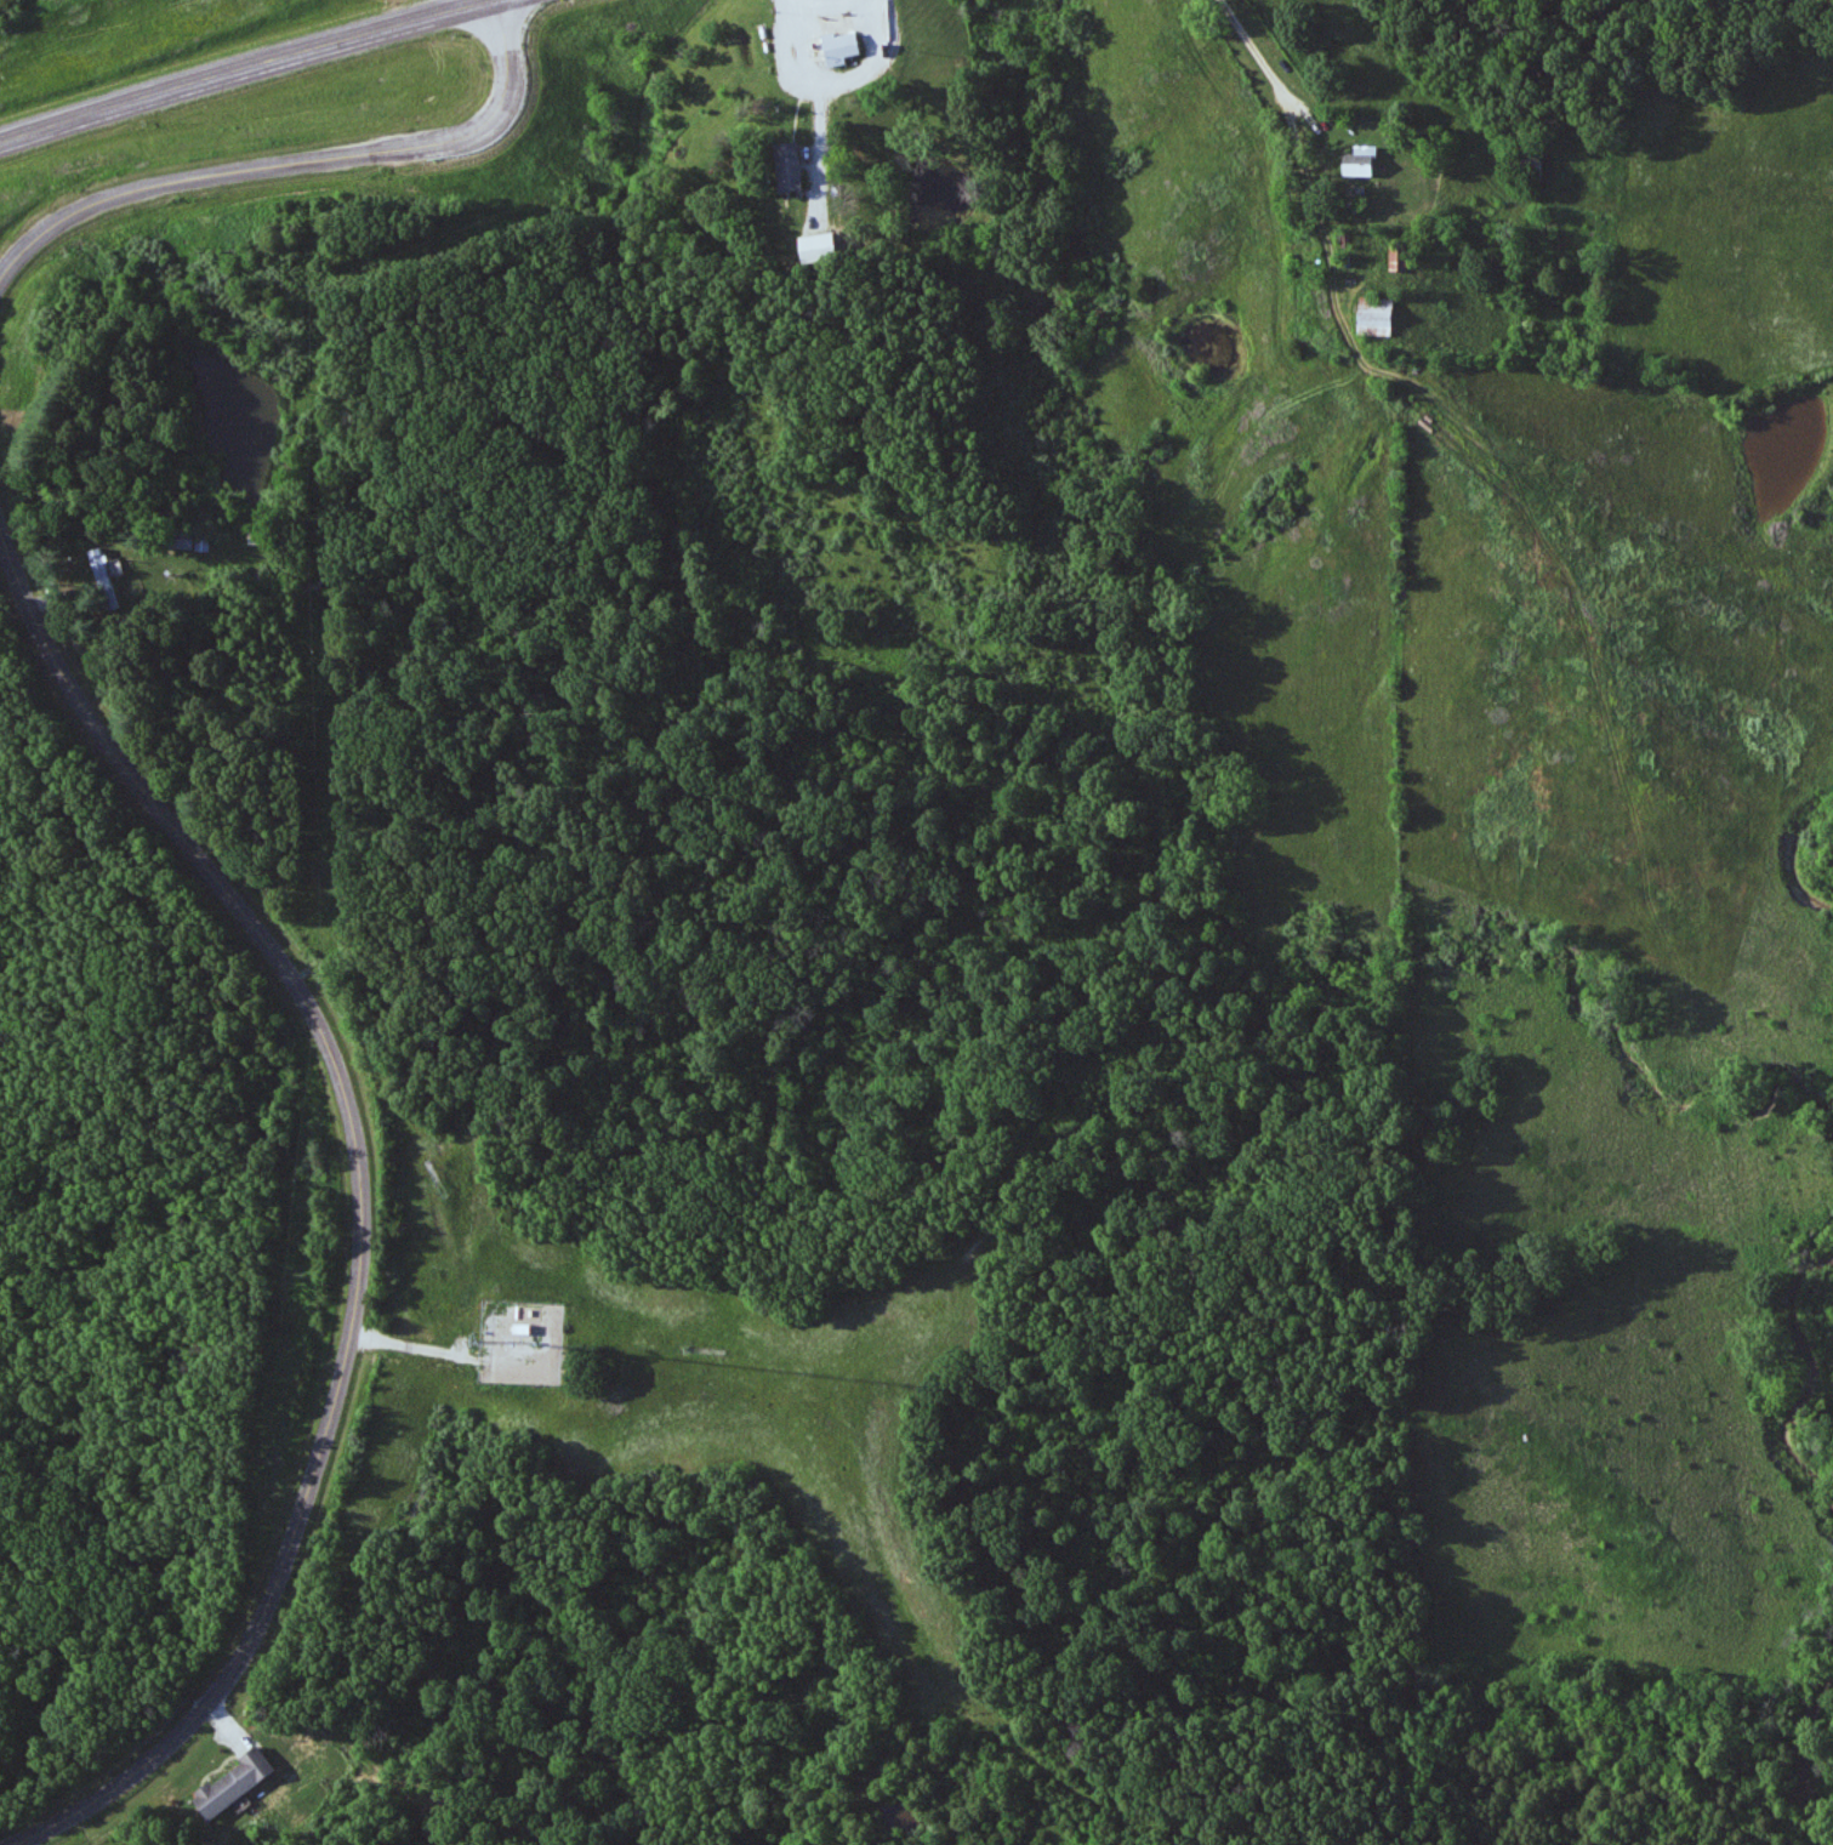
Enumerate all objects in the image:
road: (838, 1)
building: (843, 46)
road: (1262, 53)
road: (228, 69)
road: (812, 75)
road: (1421, 87)
road: (295, 155)
building: (1364, 161)
building: (791, 166)
building: (821, 247)
building: (1399, 258)
building: (1377, 317)
building: (106, 579)
road: (362, 1203)
building: (235, 1782)
road: (12, 1841)

